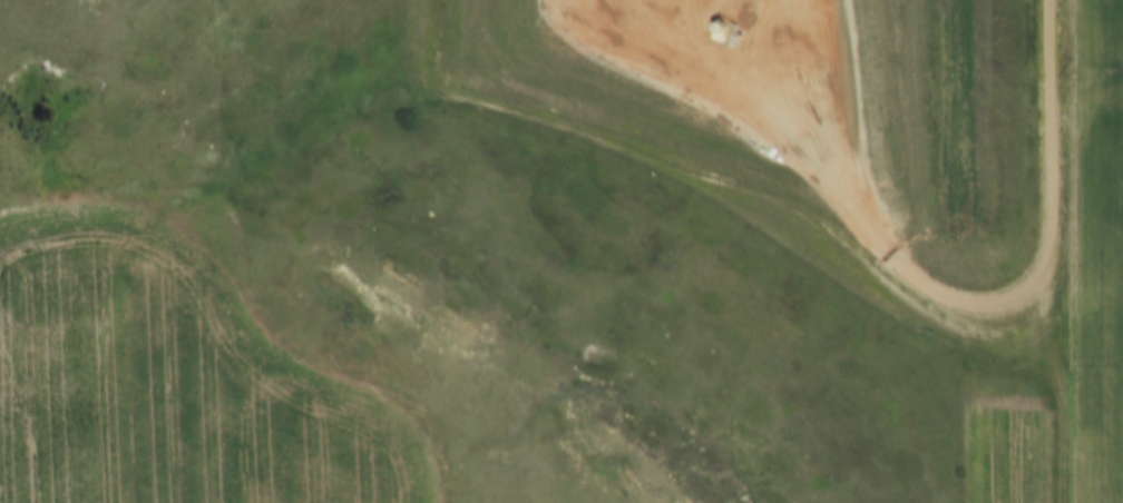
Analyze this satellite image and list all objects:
petroleum well: (721, 32)
road: (811, 78)
road: (712, 81)
road: (1041, 286)
road: (1061, 378)

